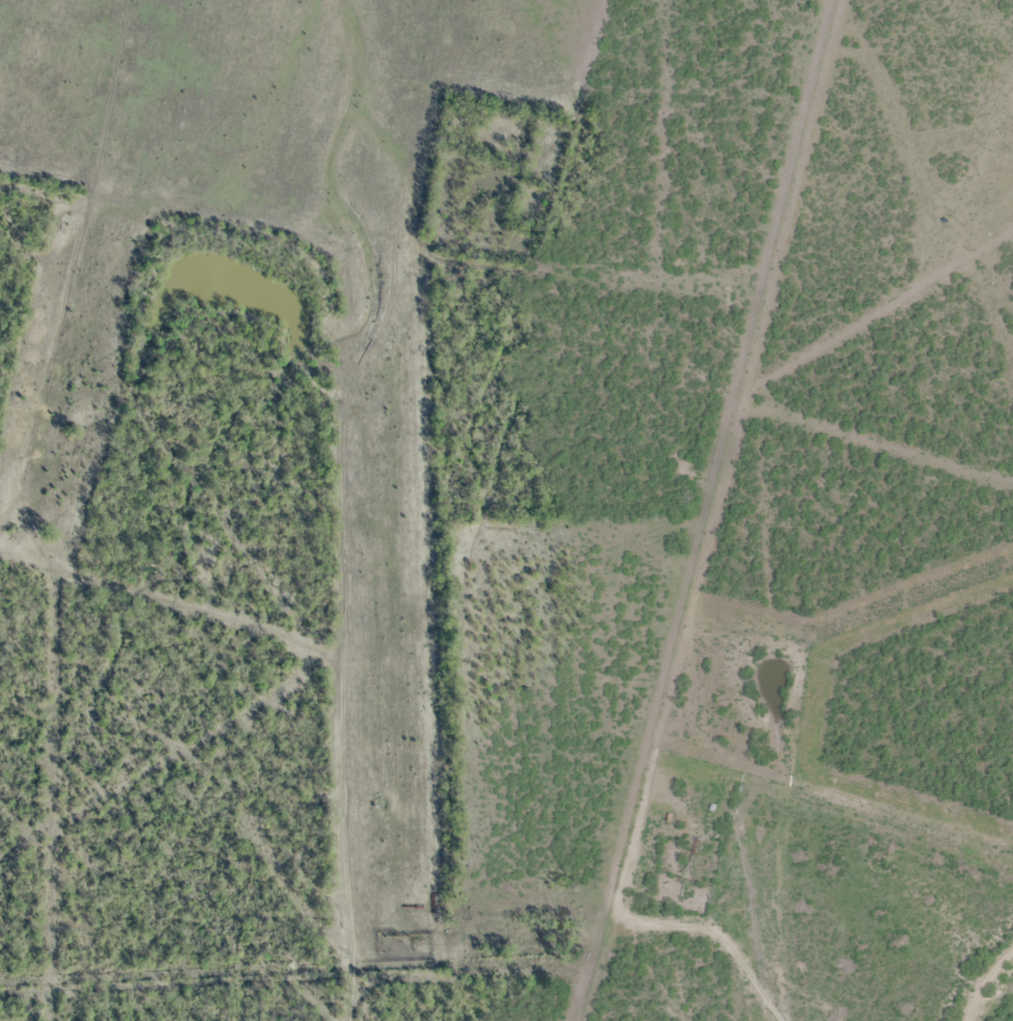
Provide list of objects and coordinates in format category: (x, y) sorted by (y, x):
road: (46, 53)
road: (1006, 1007)

